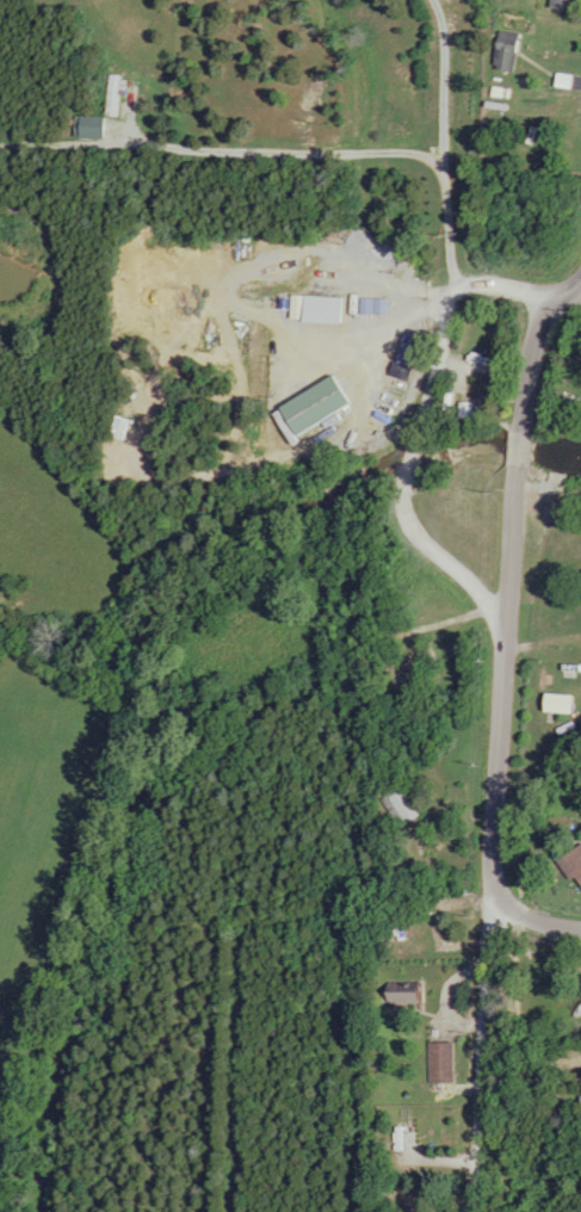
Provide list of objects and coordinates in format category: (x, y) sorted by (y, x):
building: (565, 4)
building: (505, 50)
road: (441, 144)
road: (276, 153)
building: (347, 252)
road: (580, 276)
road: (580, 283)
building: (364, 305)
building: (315, 406)
building: (141, 408)
road: (419, 420)
road: (499, 737)
building: (403, 806)
building: (575, 864)
road: (534, 908)
building: (409, 998)
building: (445, 1063)
building: (577, 1094)

